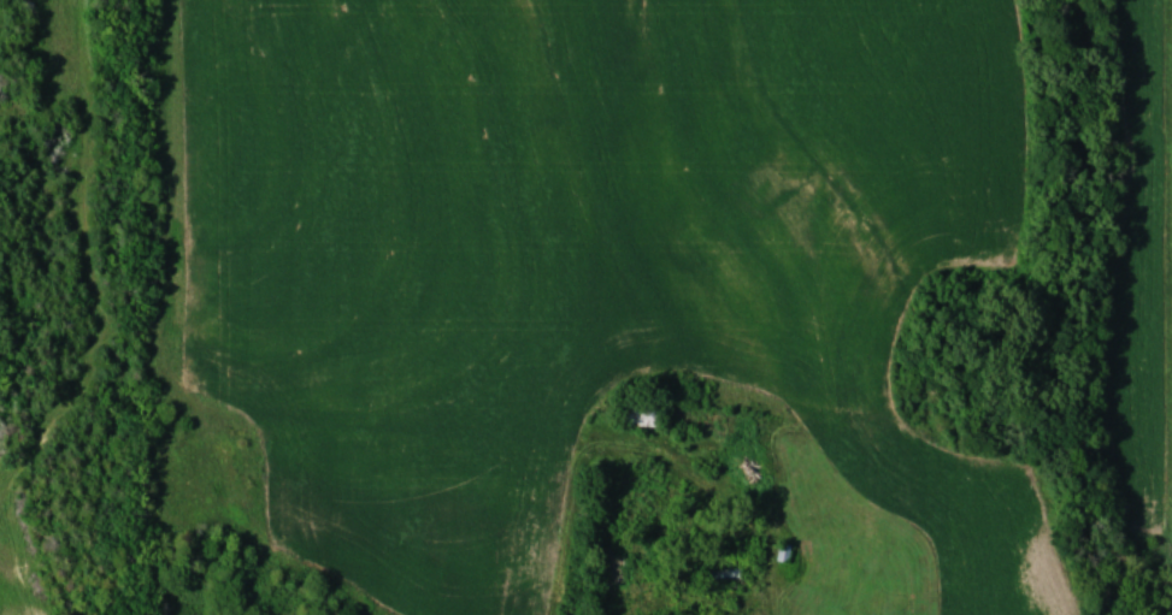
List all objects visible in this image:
building: (642, 412)

